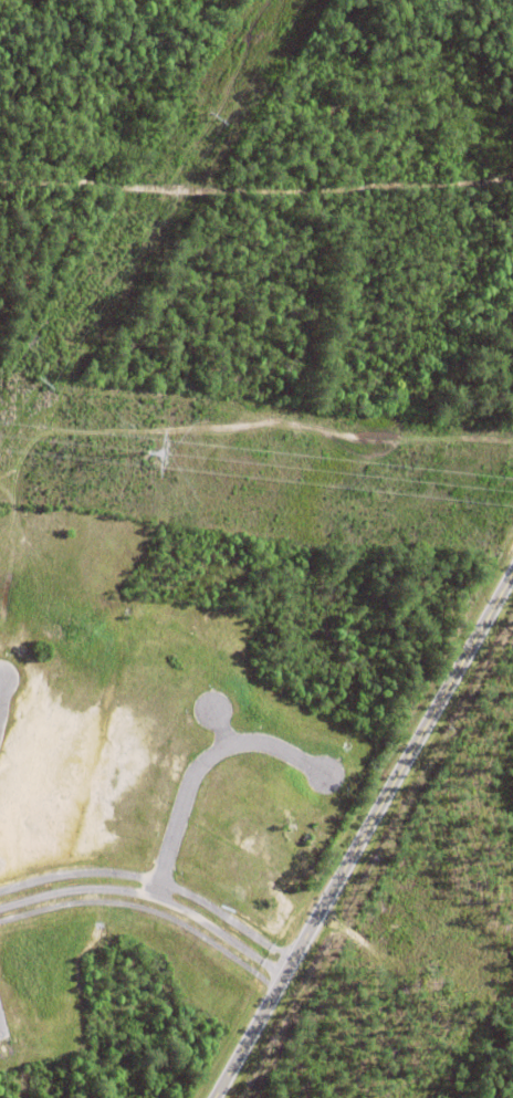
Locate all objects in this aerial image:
power tower: (137, 452)
road: (364, 834)

